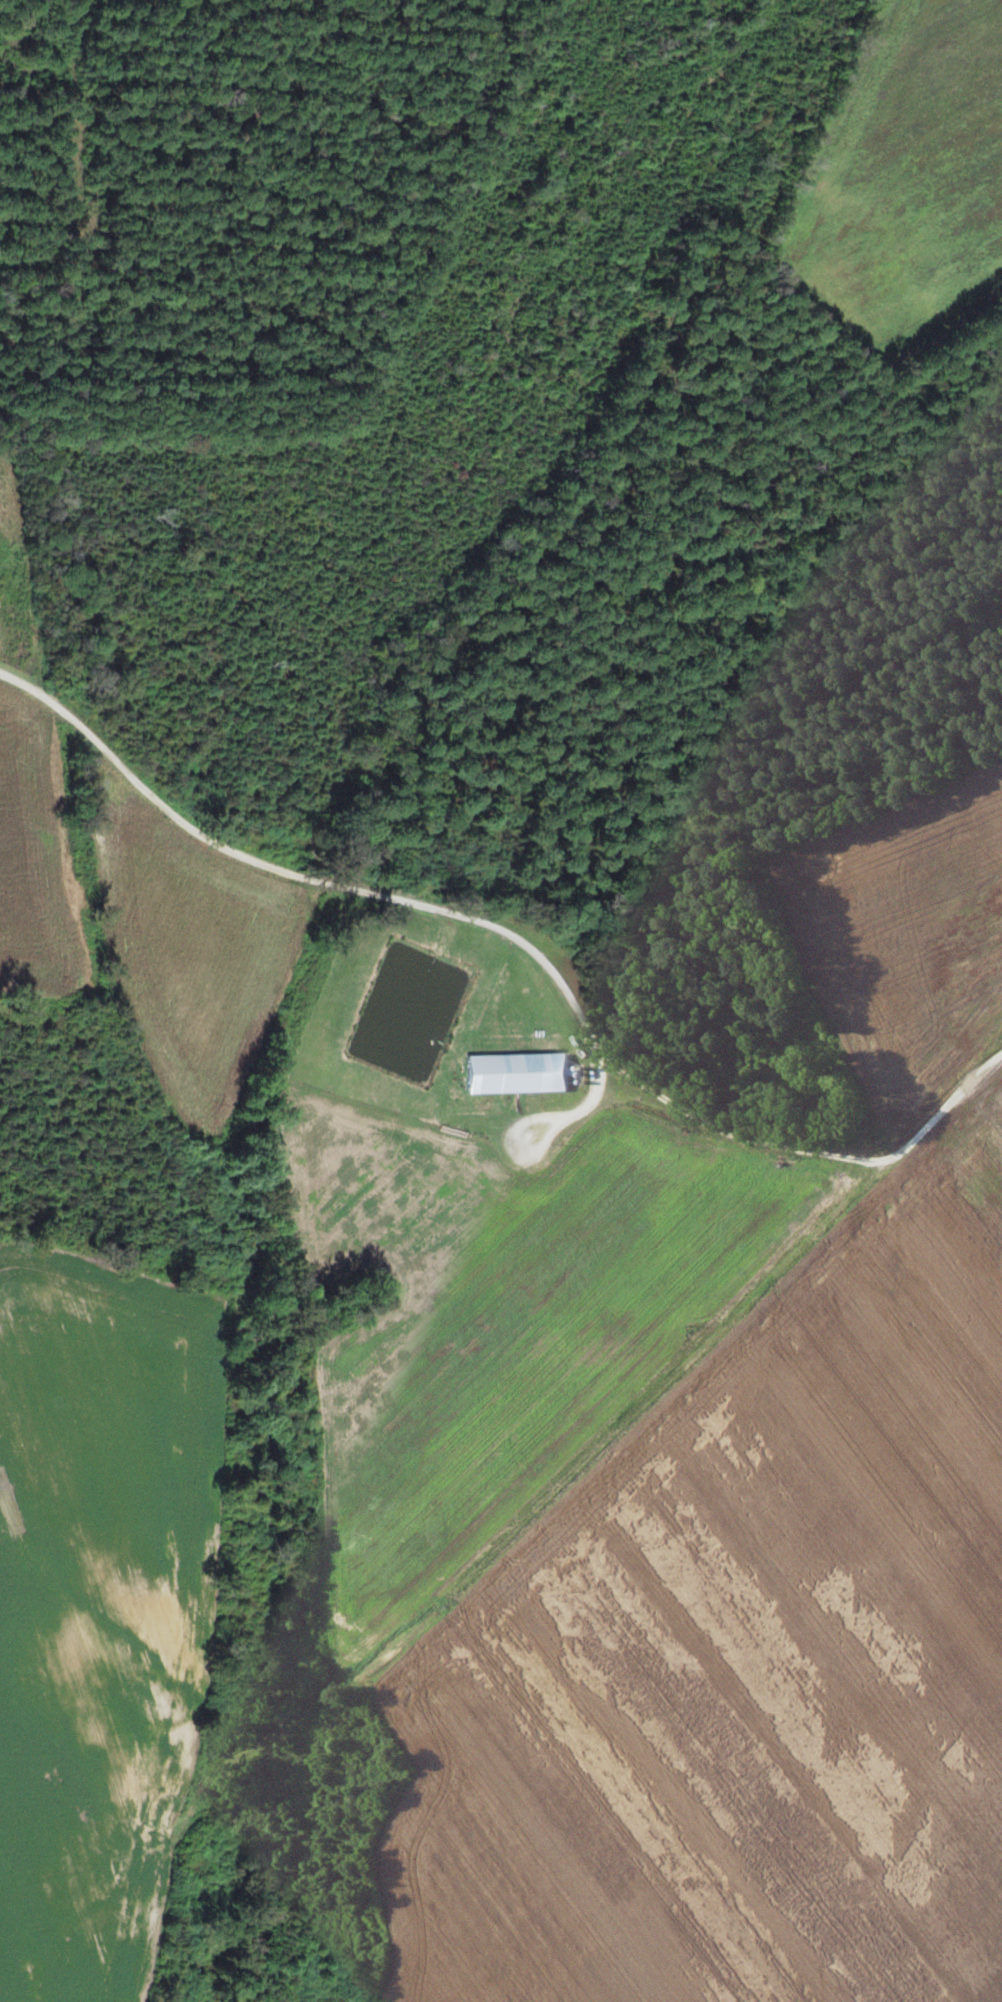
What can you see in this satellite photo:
building: (515, 1072)

